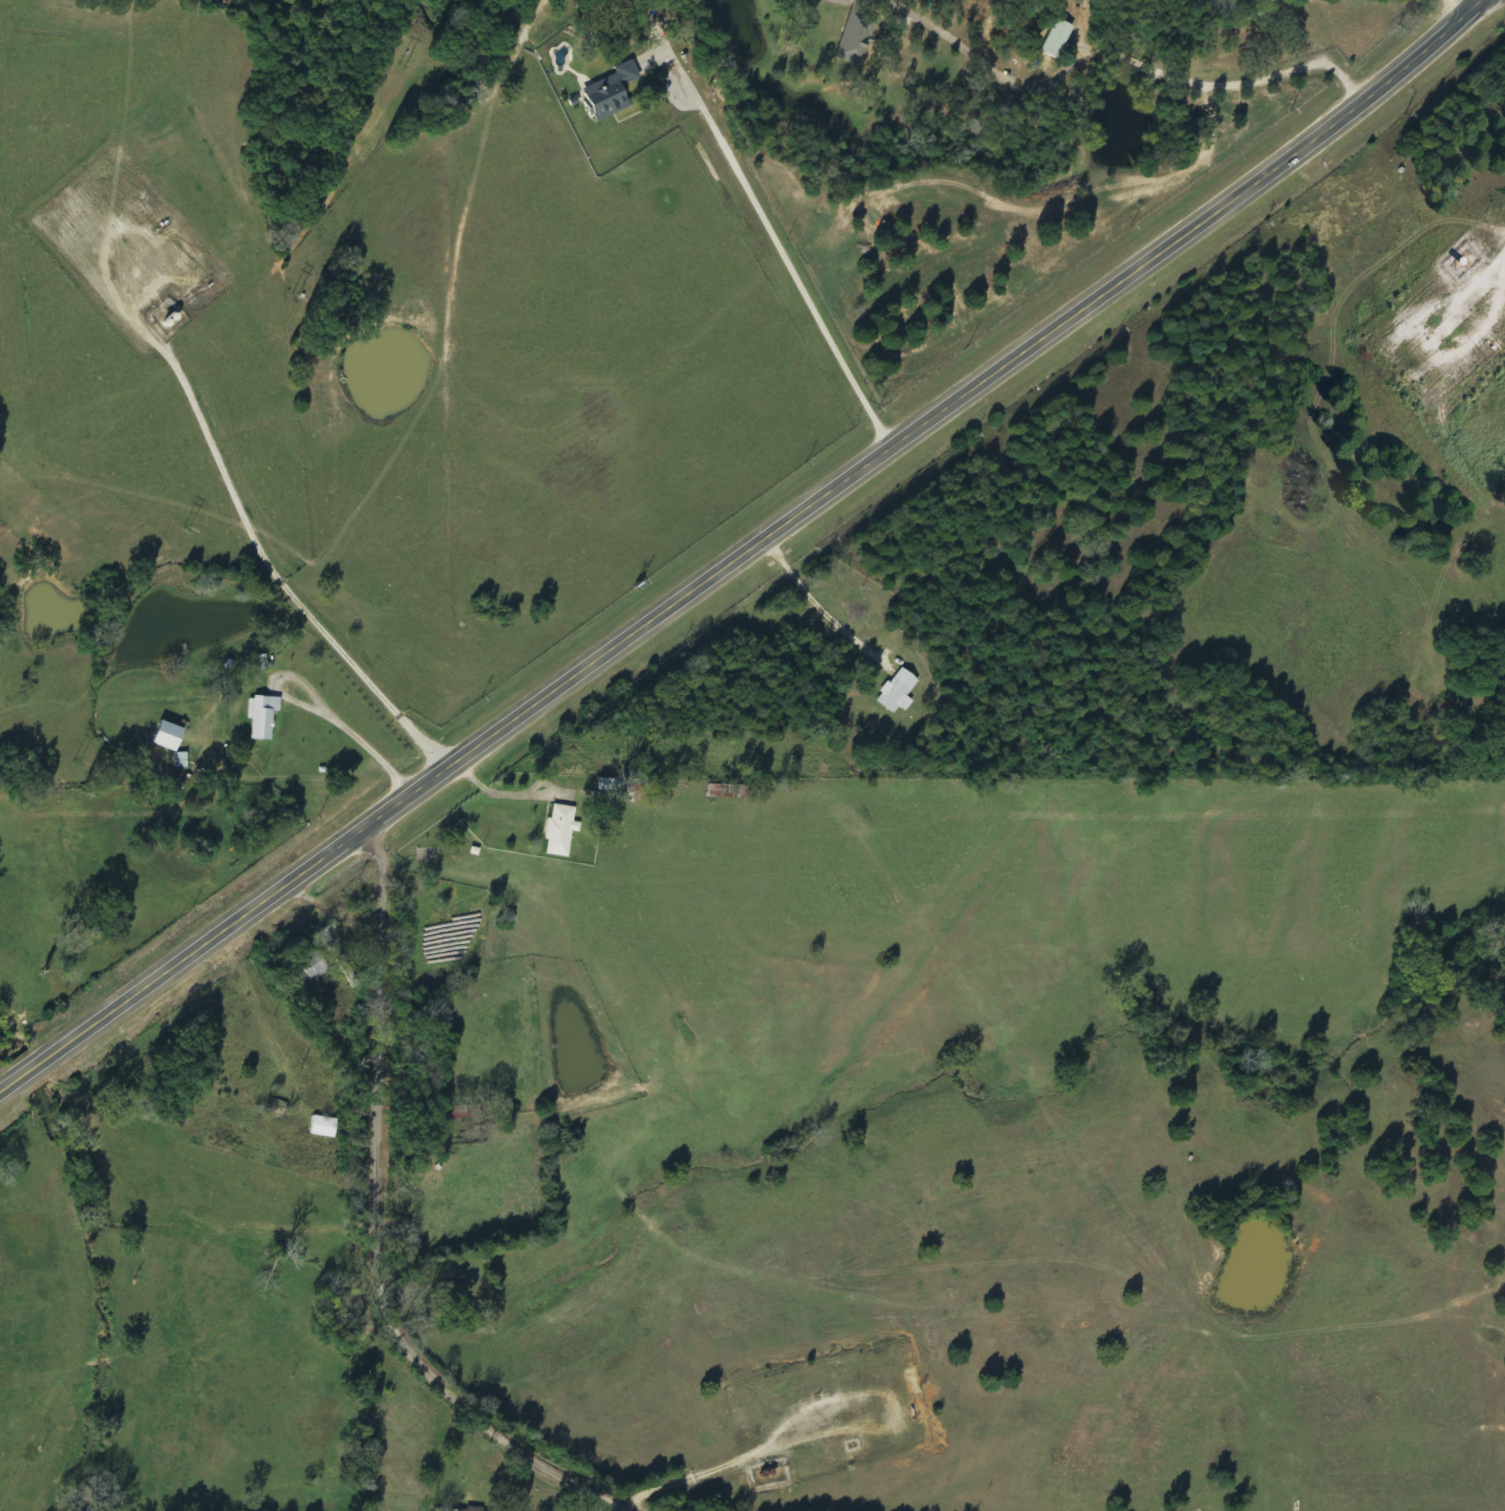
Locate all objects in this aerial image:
building: (857, 38)
building: (1058, 39)
power tower: (400, 66)
building: (611, 93)
power tower: (293, 298)
power tower: (184, 528)
road: (751, 555)
building: (899, 693)
building: (263, 717)
building: (168, 737)
power tower: (77, 760)
building: (181, 761)
building: (562, 831)
building: (314, 966)
building: (324, 1127)
road: (418, 1273)
building: (468, 1510)

